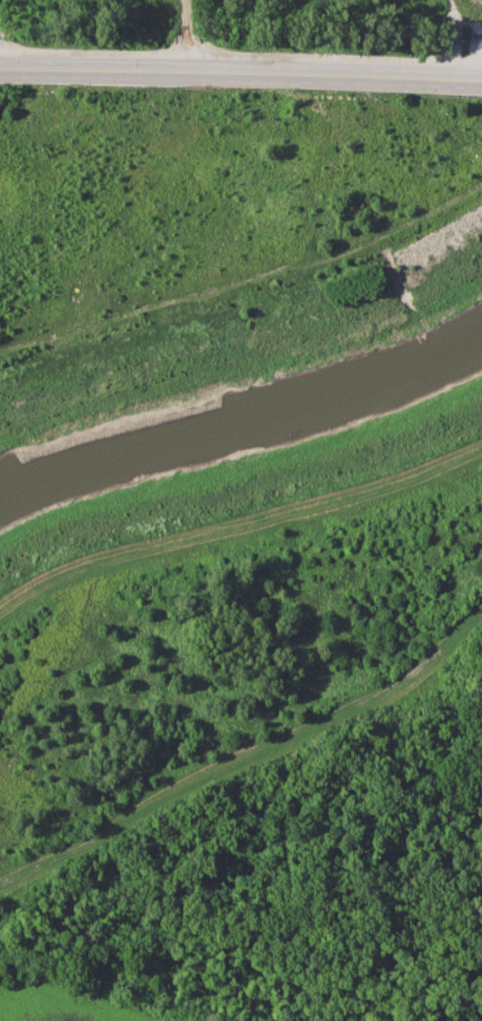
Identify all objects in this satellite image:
road: (241, 76)
street lamp: (56, 88)
street lamp: (176, 89)
street lamp: (289, 90)
street lamp: (403, 94)
park: (219, 245)
river: (243, 426)

